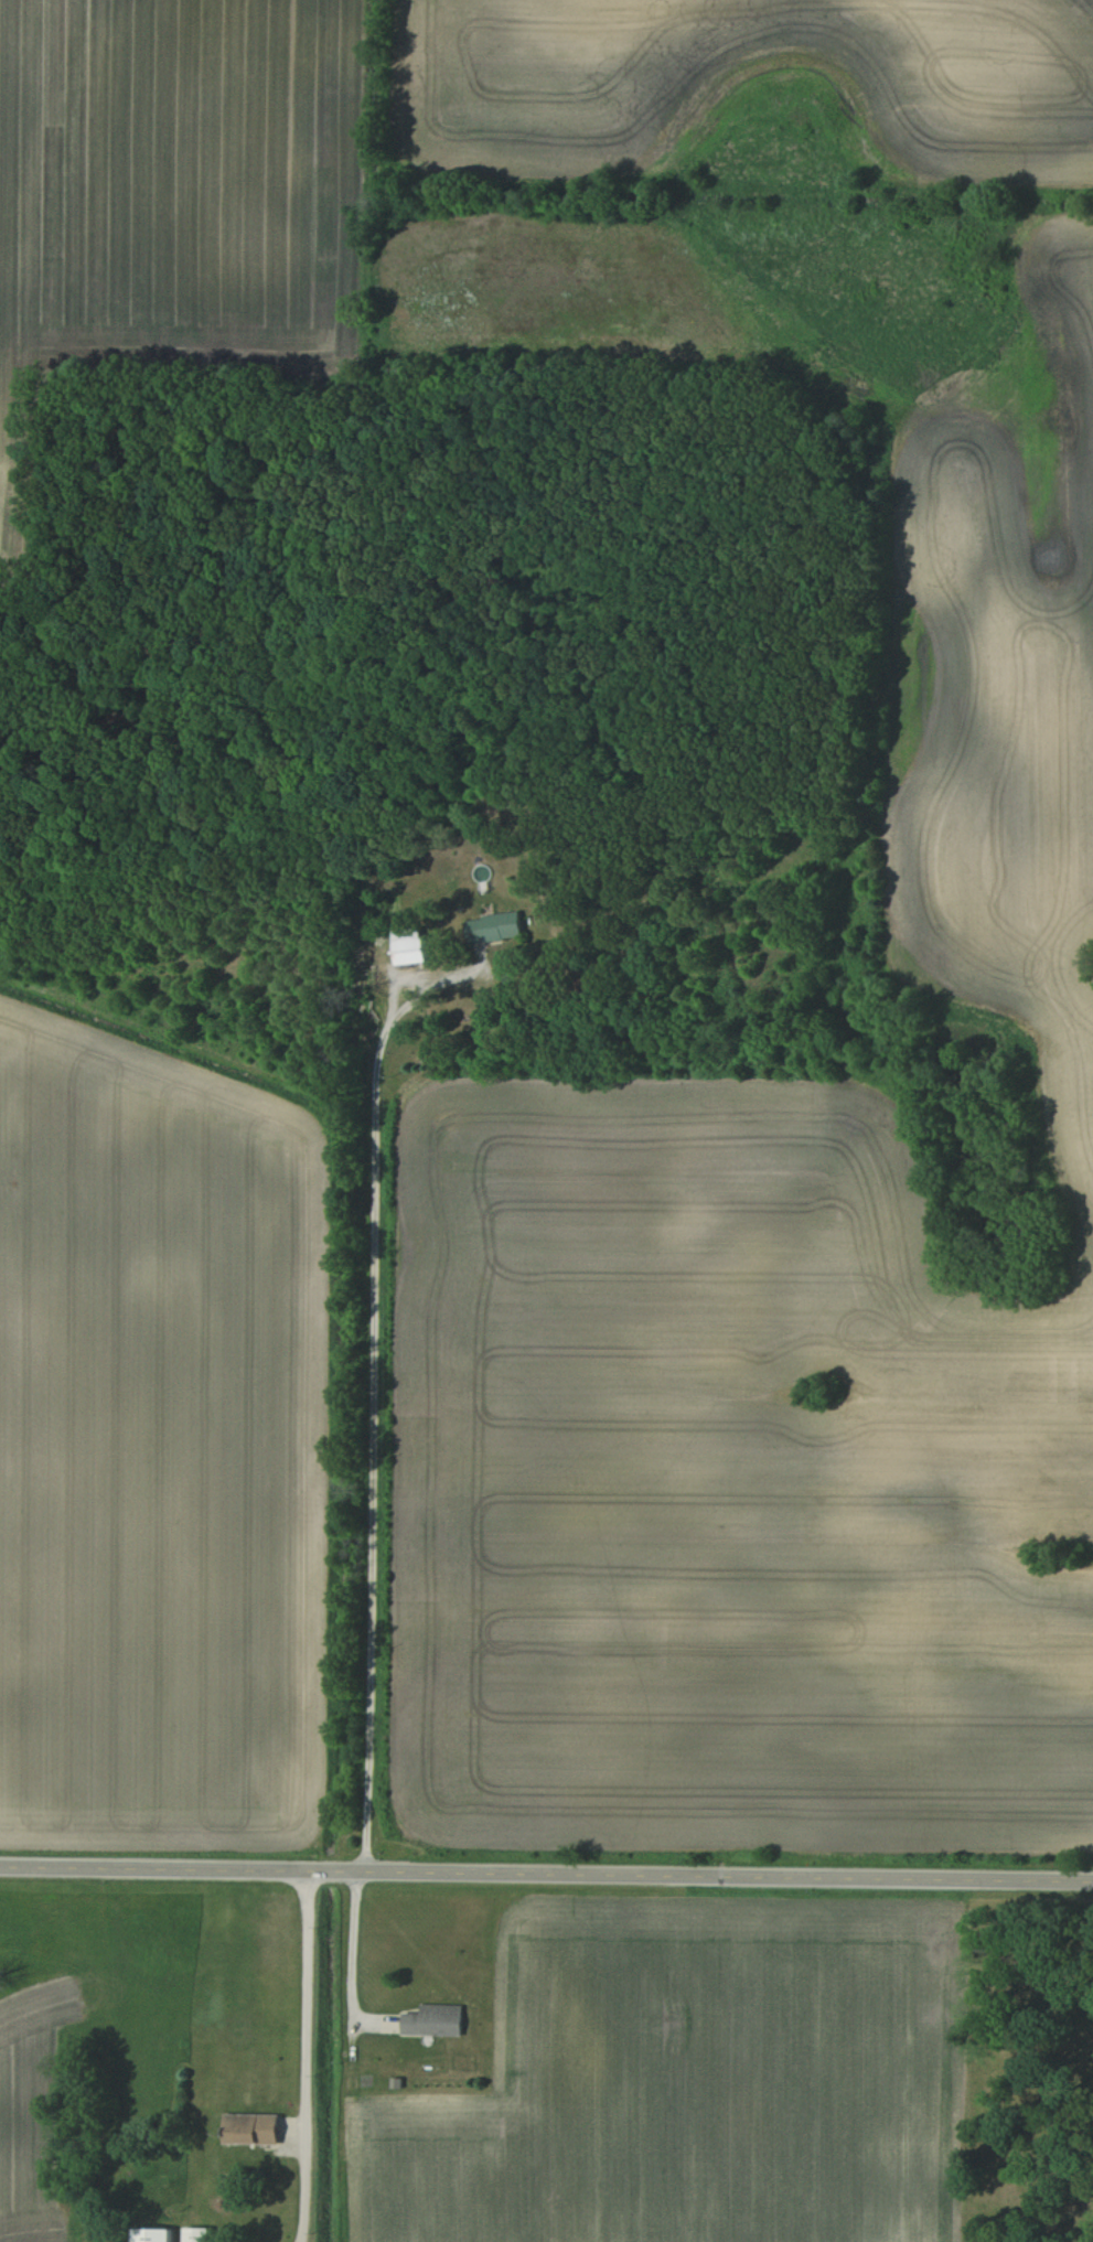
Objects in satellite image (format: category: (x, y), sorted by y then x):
building: (490, 927)
building: (406, 946)
road: (371, 1480)
road: (546, 1871)
building: (430, 2020)
road: (306, 2056)
building: (247, 2130)
building: (148, 2234)
building: (193, 2234)

